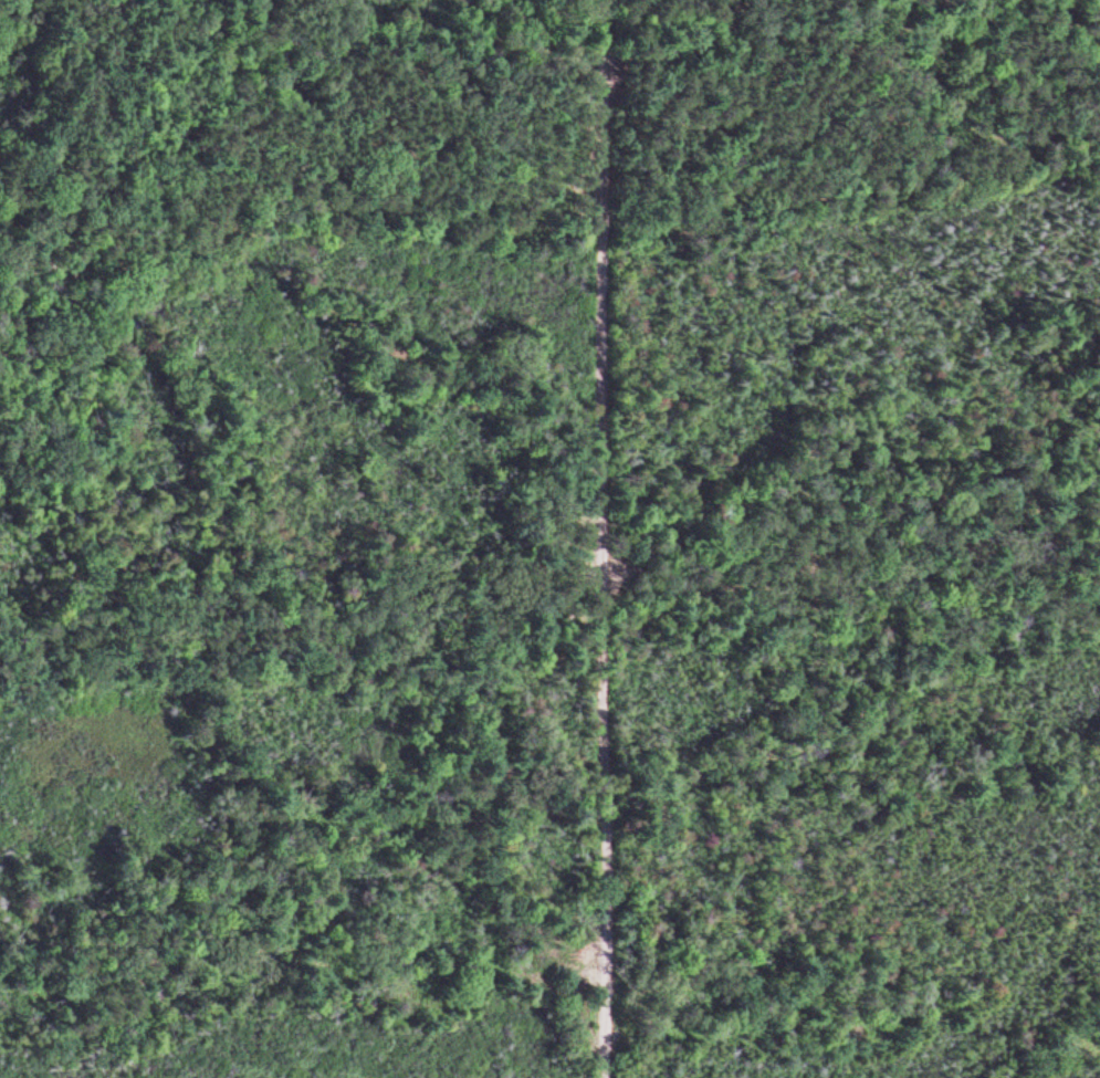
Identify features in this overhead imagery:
road: (600, 538)
road: (855, 543)

